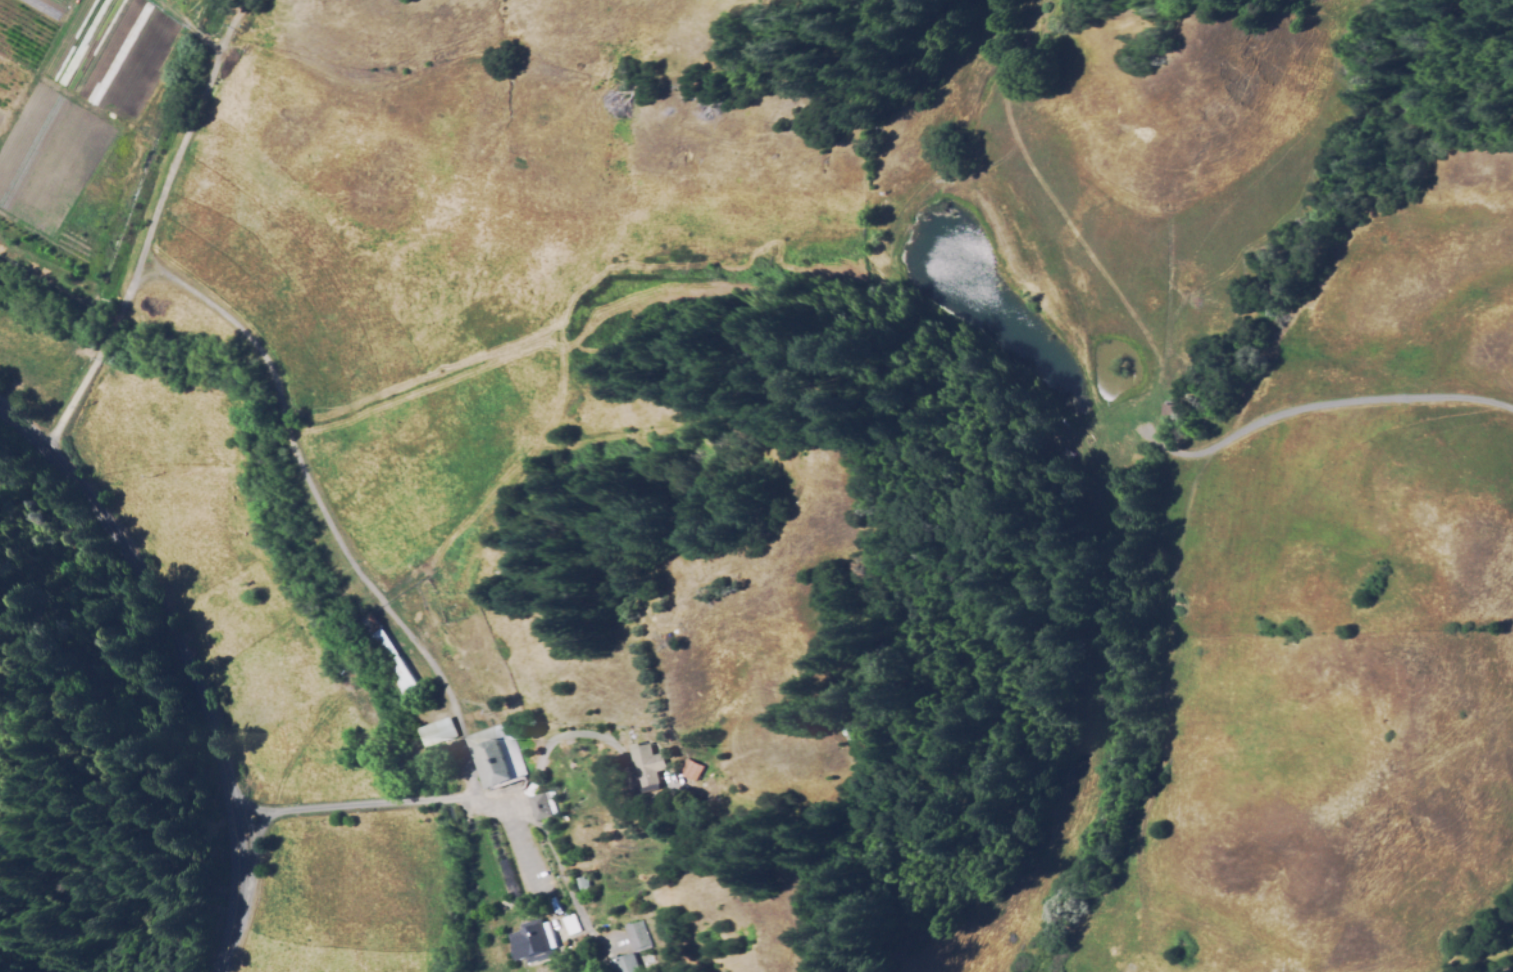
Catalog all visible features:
road: (140, 224)
building: (387, 660)
road: (176, 667)
building: (435, 736)
building: (493, 758)
building: (646, 770)
building: (688, 773)
road: (435, 800)
building: (540, 810)
building: (583, 887)
building: (569, 927)
building: (635, 939)
building: (532, 943)
building: (623, 963)
building: (644, 964)

